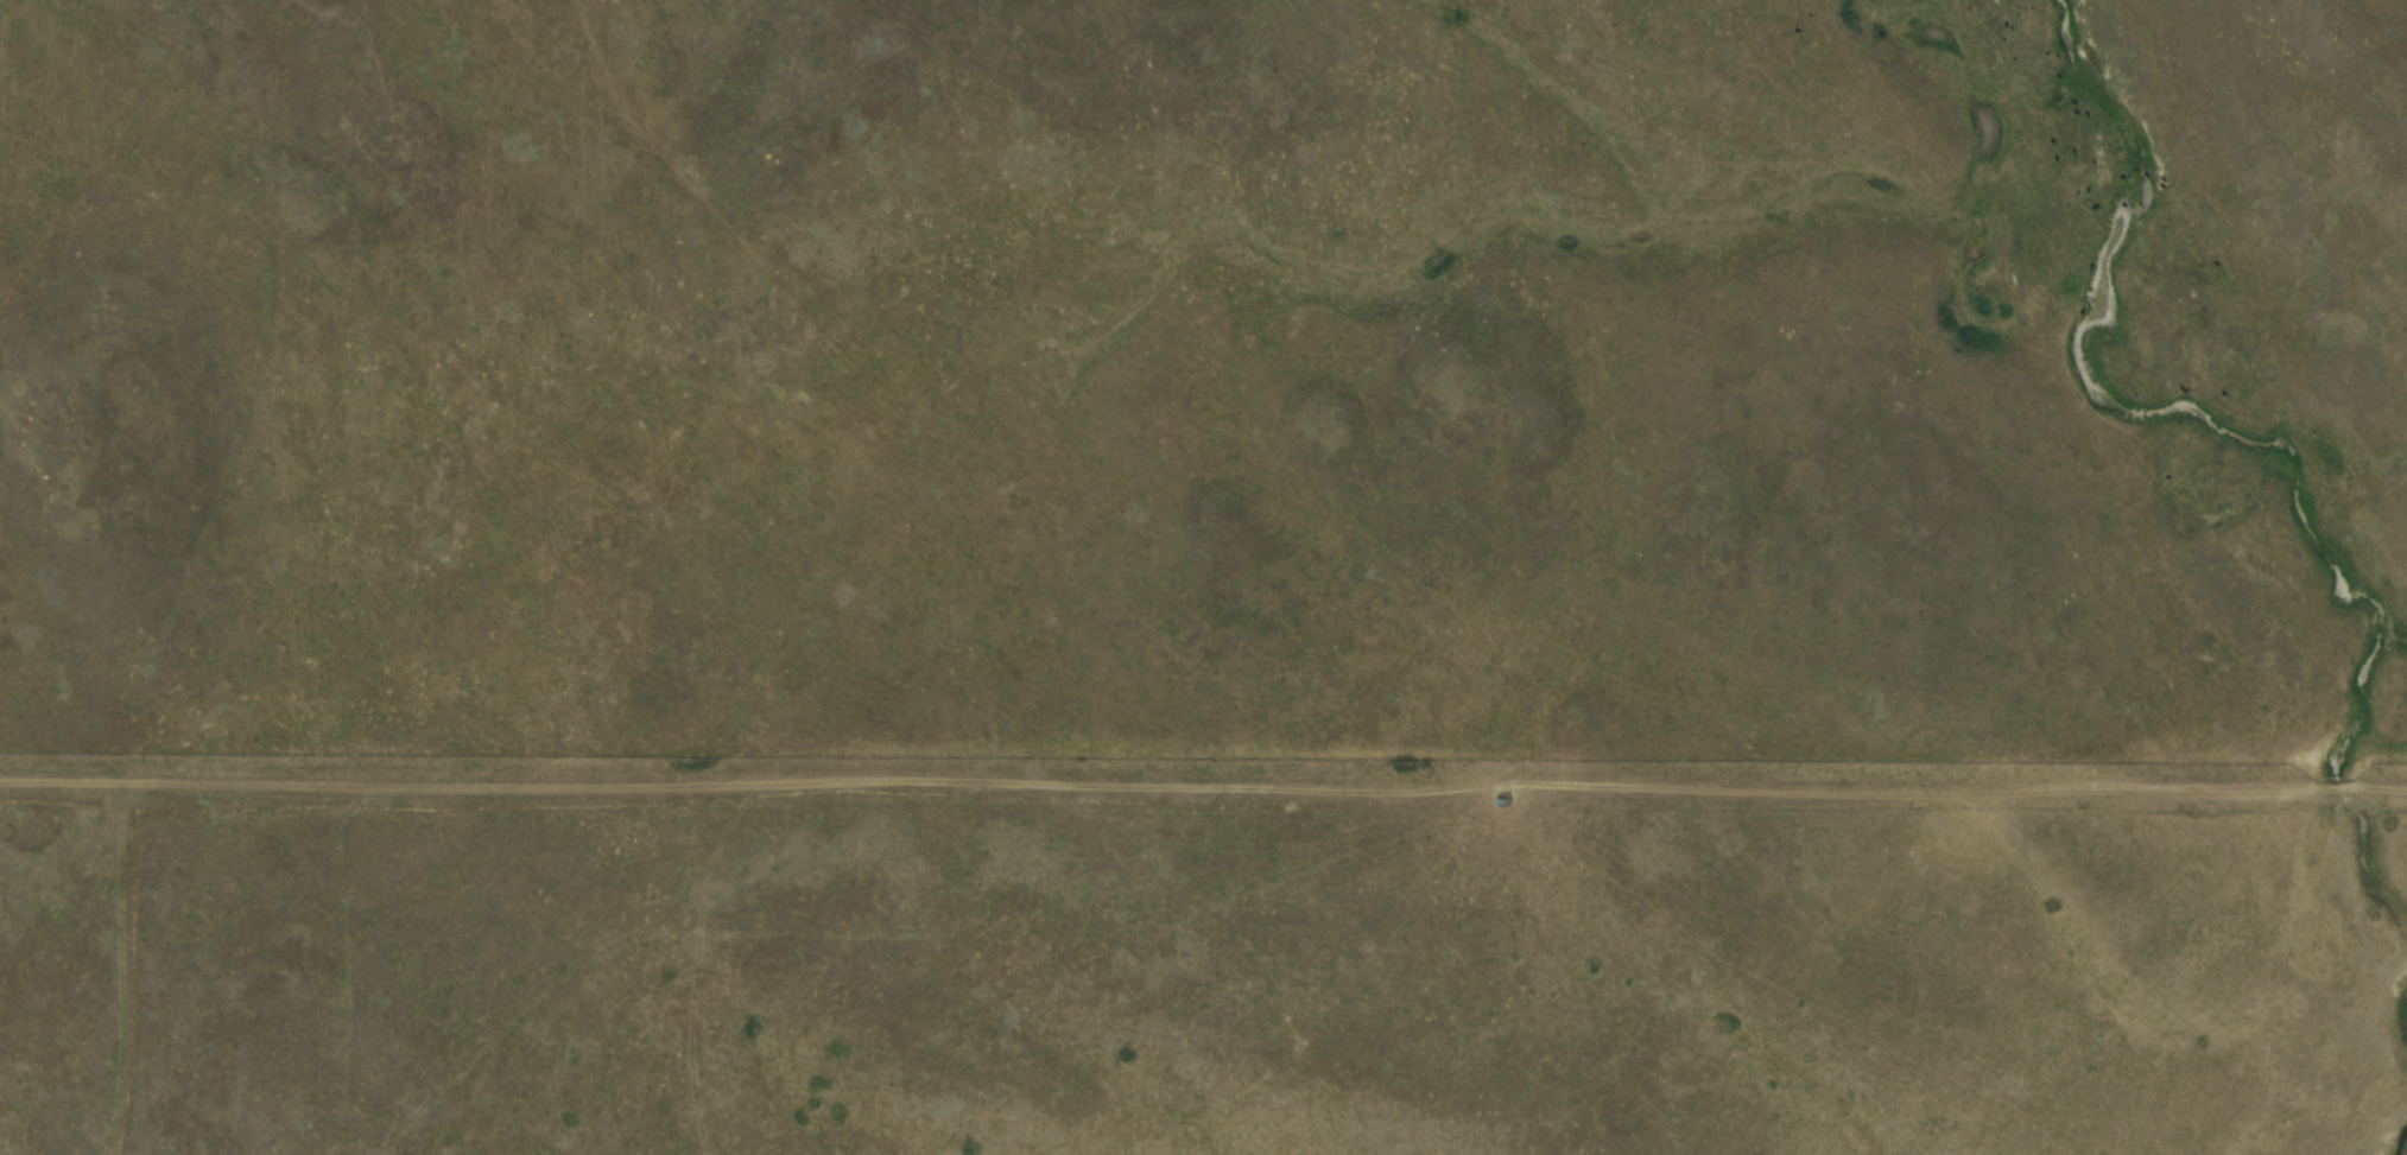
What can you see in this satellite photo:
road: (1095, 823)

